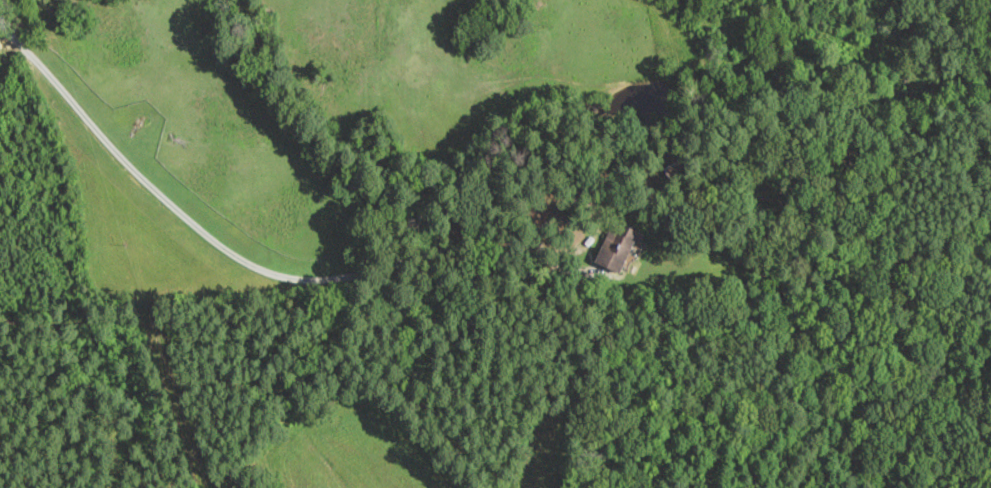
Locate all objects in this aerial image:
crop: (1, 45)
building: (676, 172)
building: (617, 248)
road: (243, 260)

